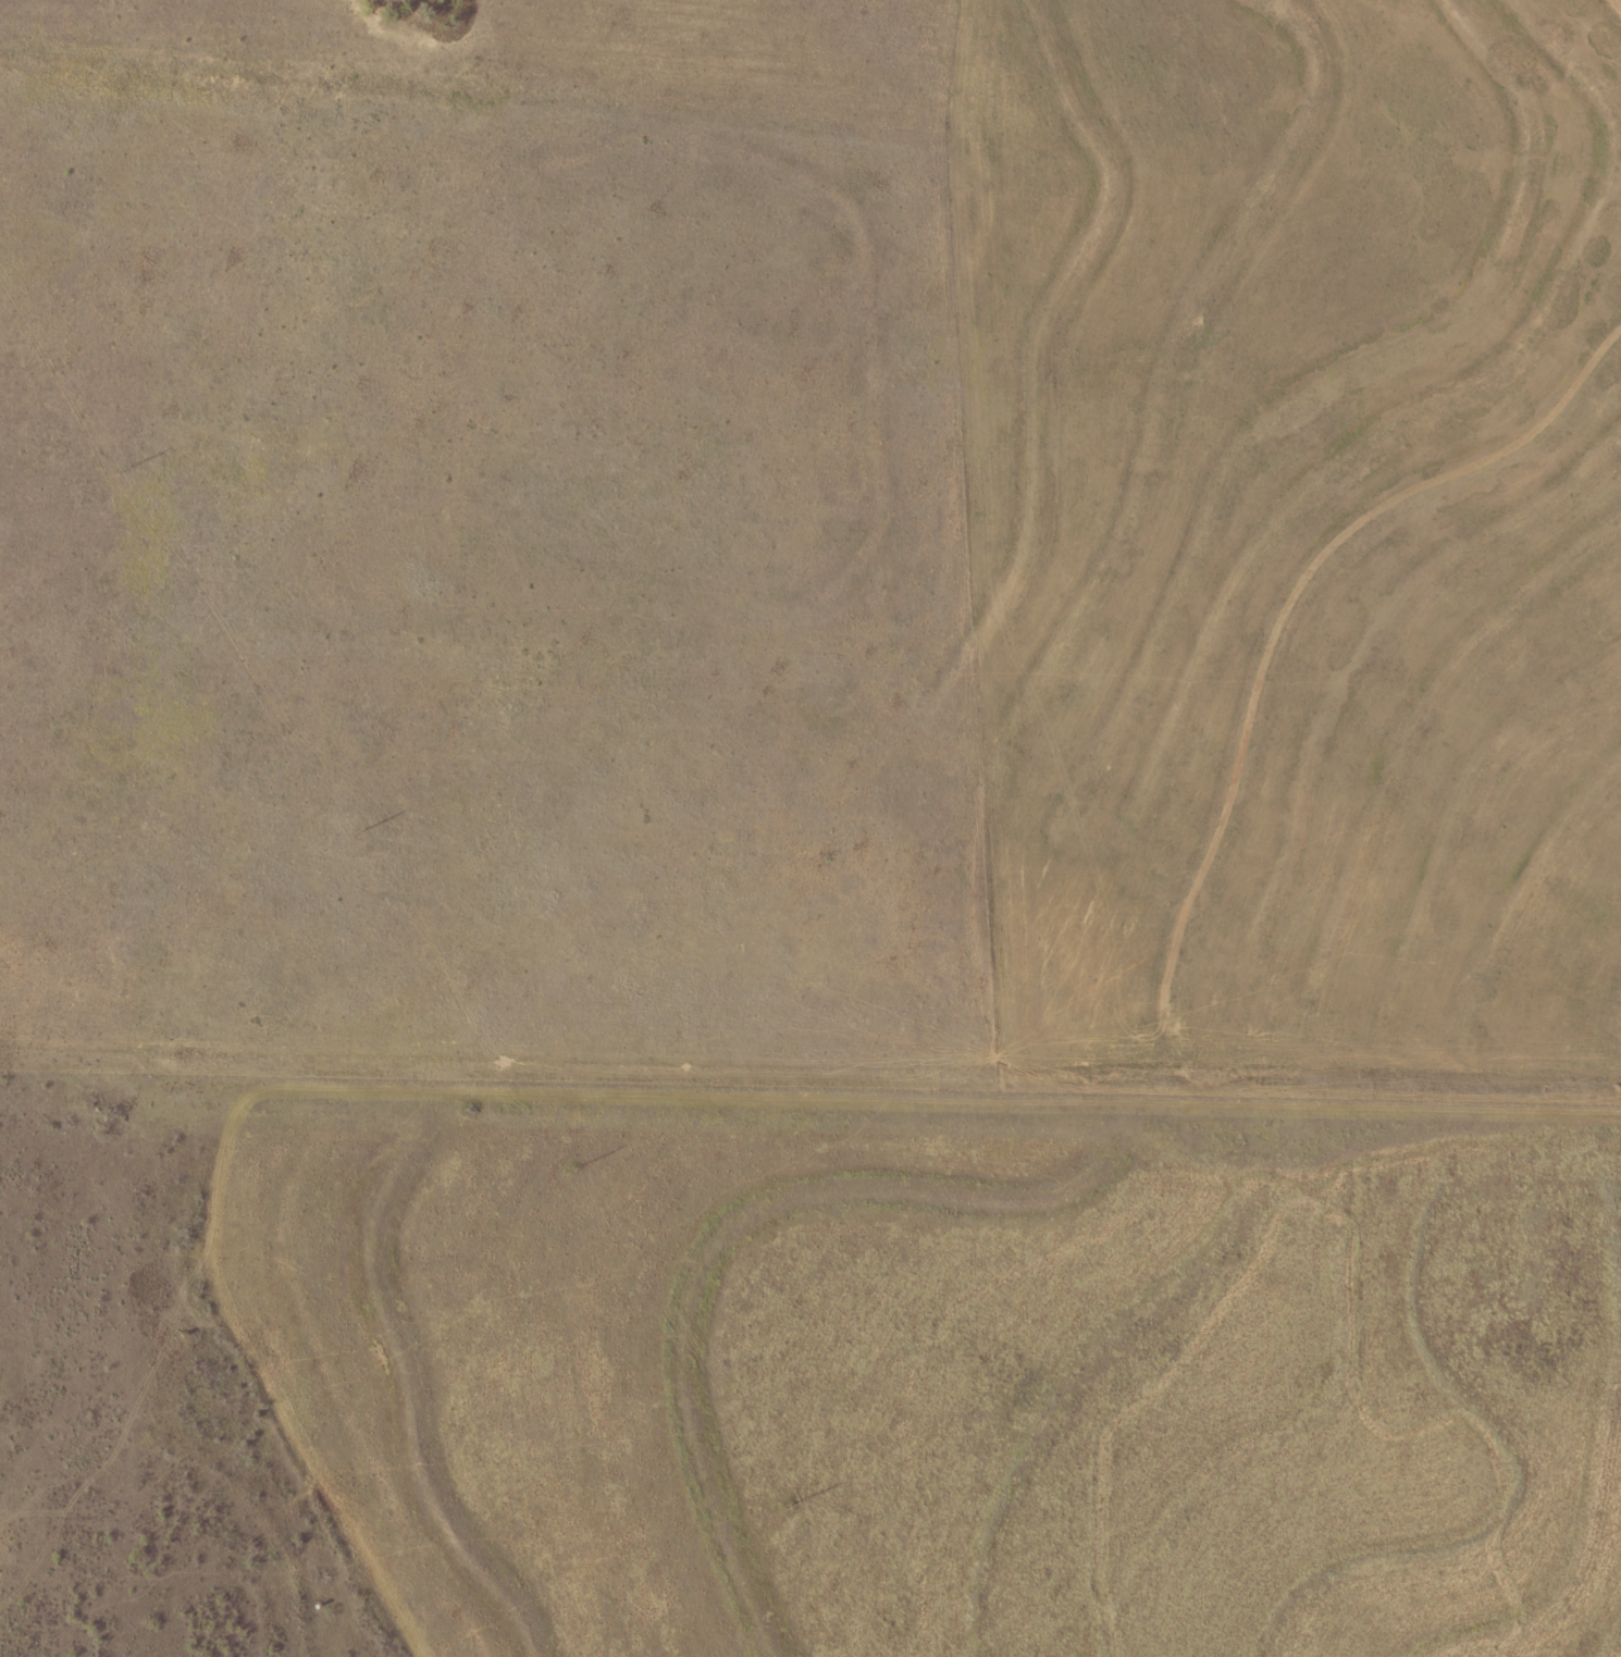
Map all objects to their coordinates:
power tower: (124, 470)
power tower: (359, 834)
power tower: (576, 1170)
power tower: (792, 1506)

